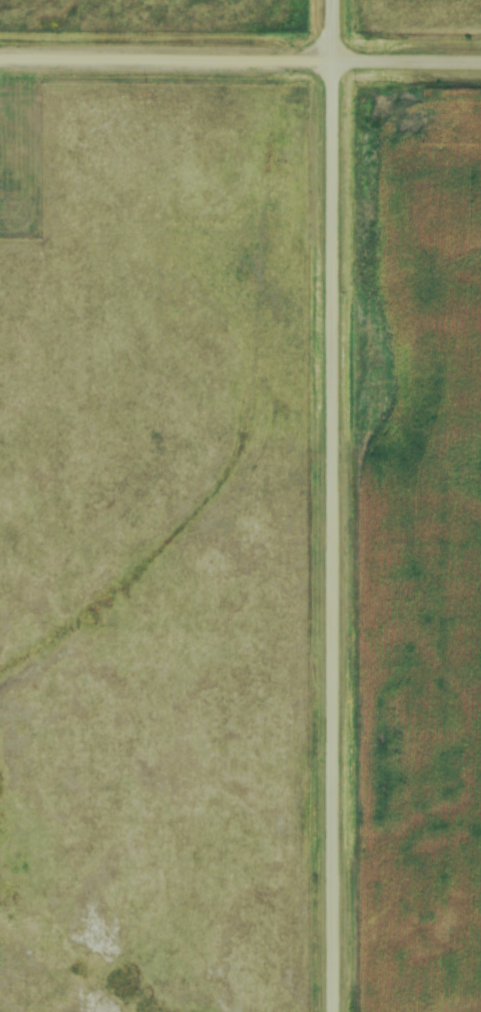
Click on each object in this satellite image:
road: (240, 59)
road: (334, 505)

